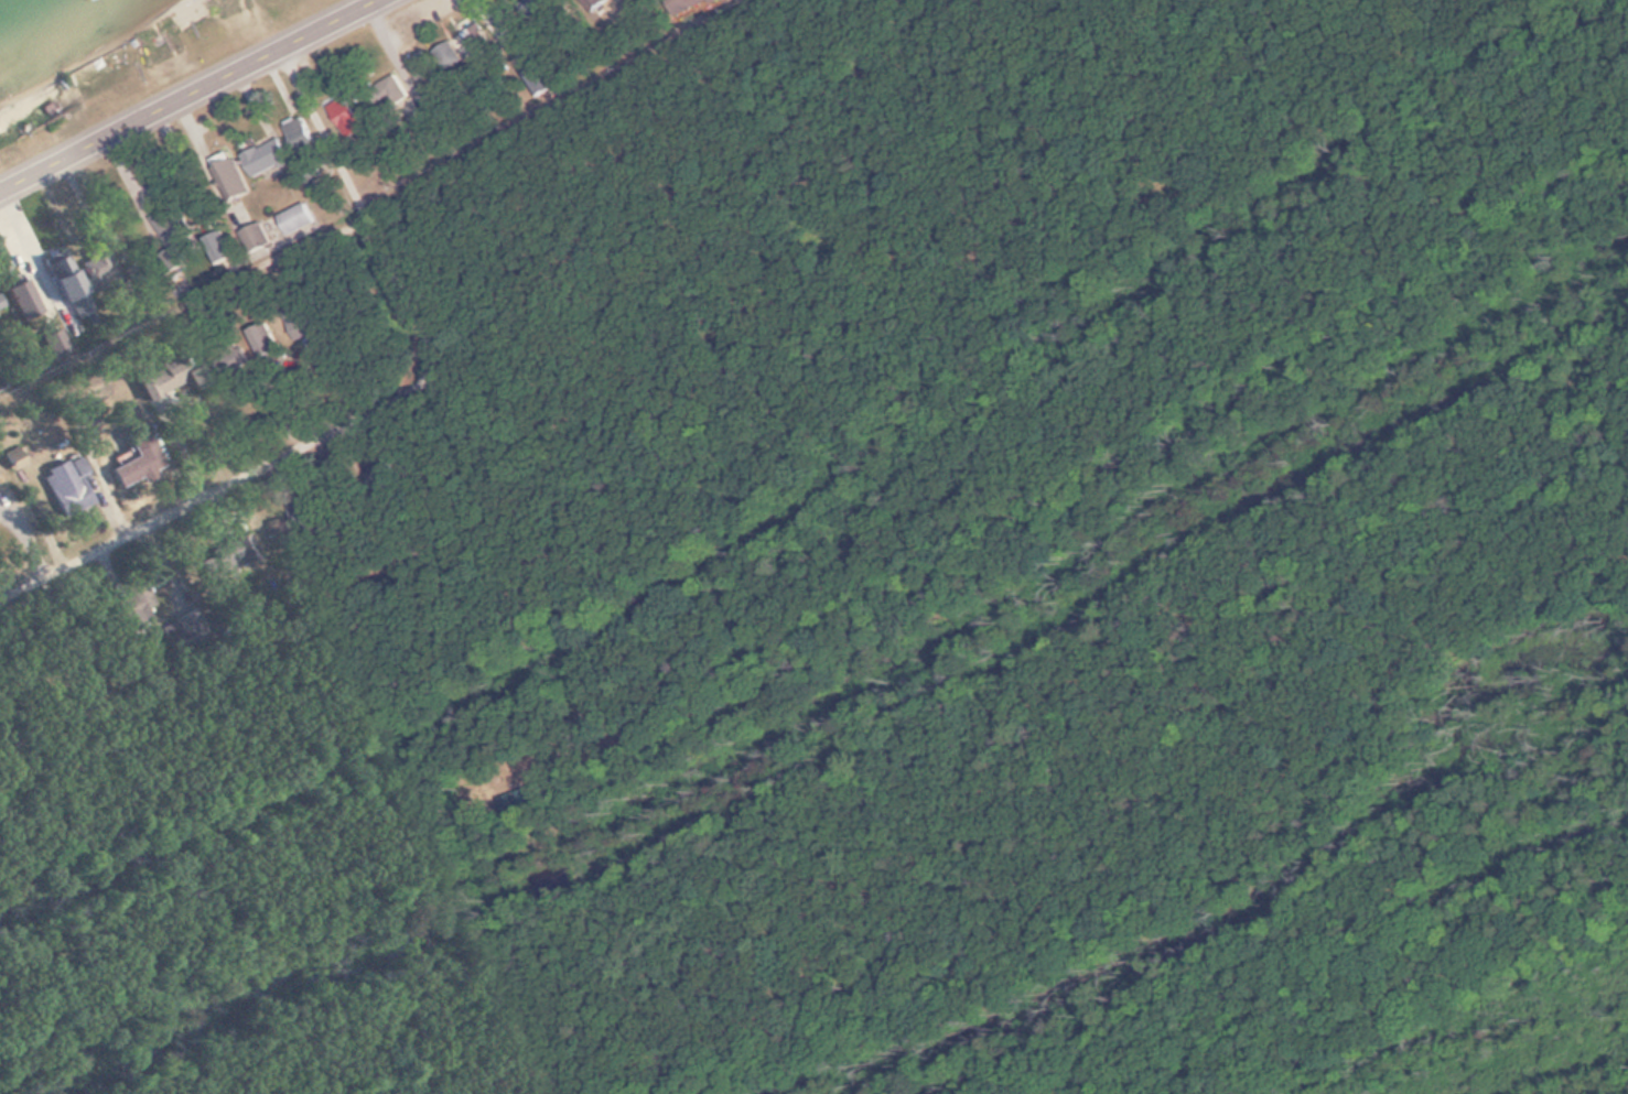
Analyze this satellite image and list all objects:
building: (700, 1)
building: (599, 4)
building: (474, 39)
park: (159, 42)
building: (444, 55)
building: (419, 66)
road: (187, 94)
building: (346, 119)
building: (301, 134)
building: (266, 159)
building: (234, 183)
building: (298, 219)
building: (165, 228)
building: (260, 238)
building: (96, 273)
building: (60, 277)
building: (24, 301)
building: (0, 304)
building: (300, 321)
building: (262, 342)
building: (176, 377)
road: (384, 412)
road: (537, 446)
building: (145, 462)
building: (69, 487)
building: (187, 628)

